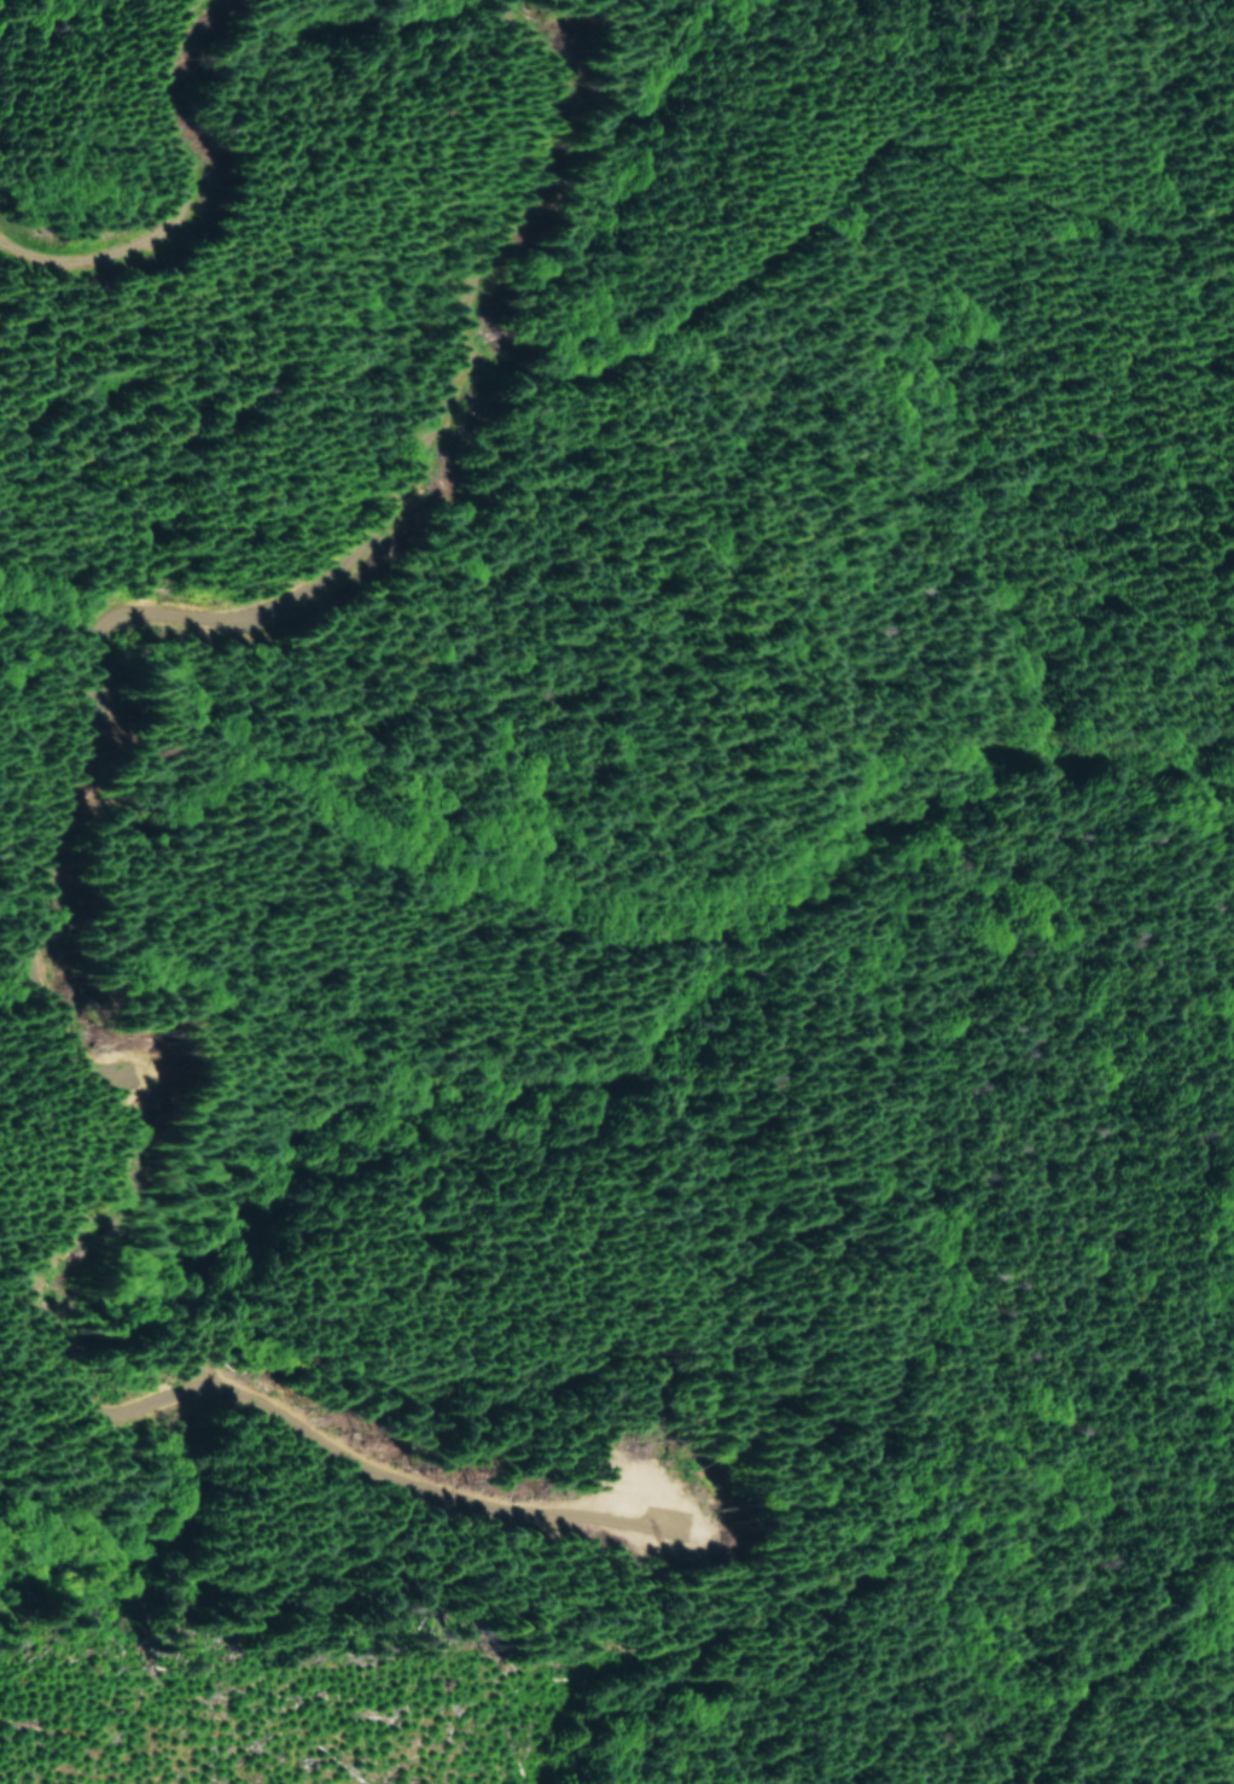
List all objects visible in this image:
road: (47, 78)
road: (502, 156)
road: (464, 303)
road: (27, 1031)

